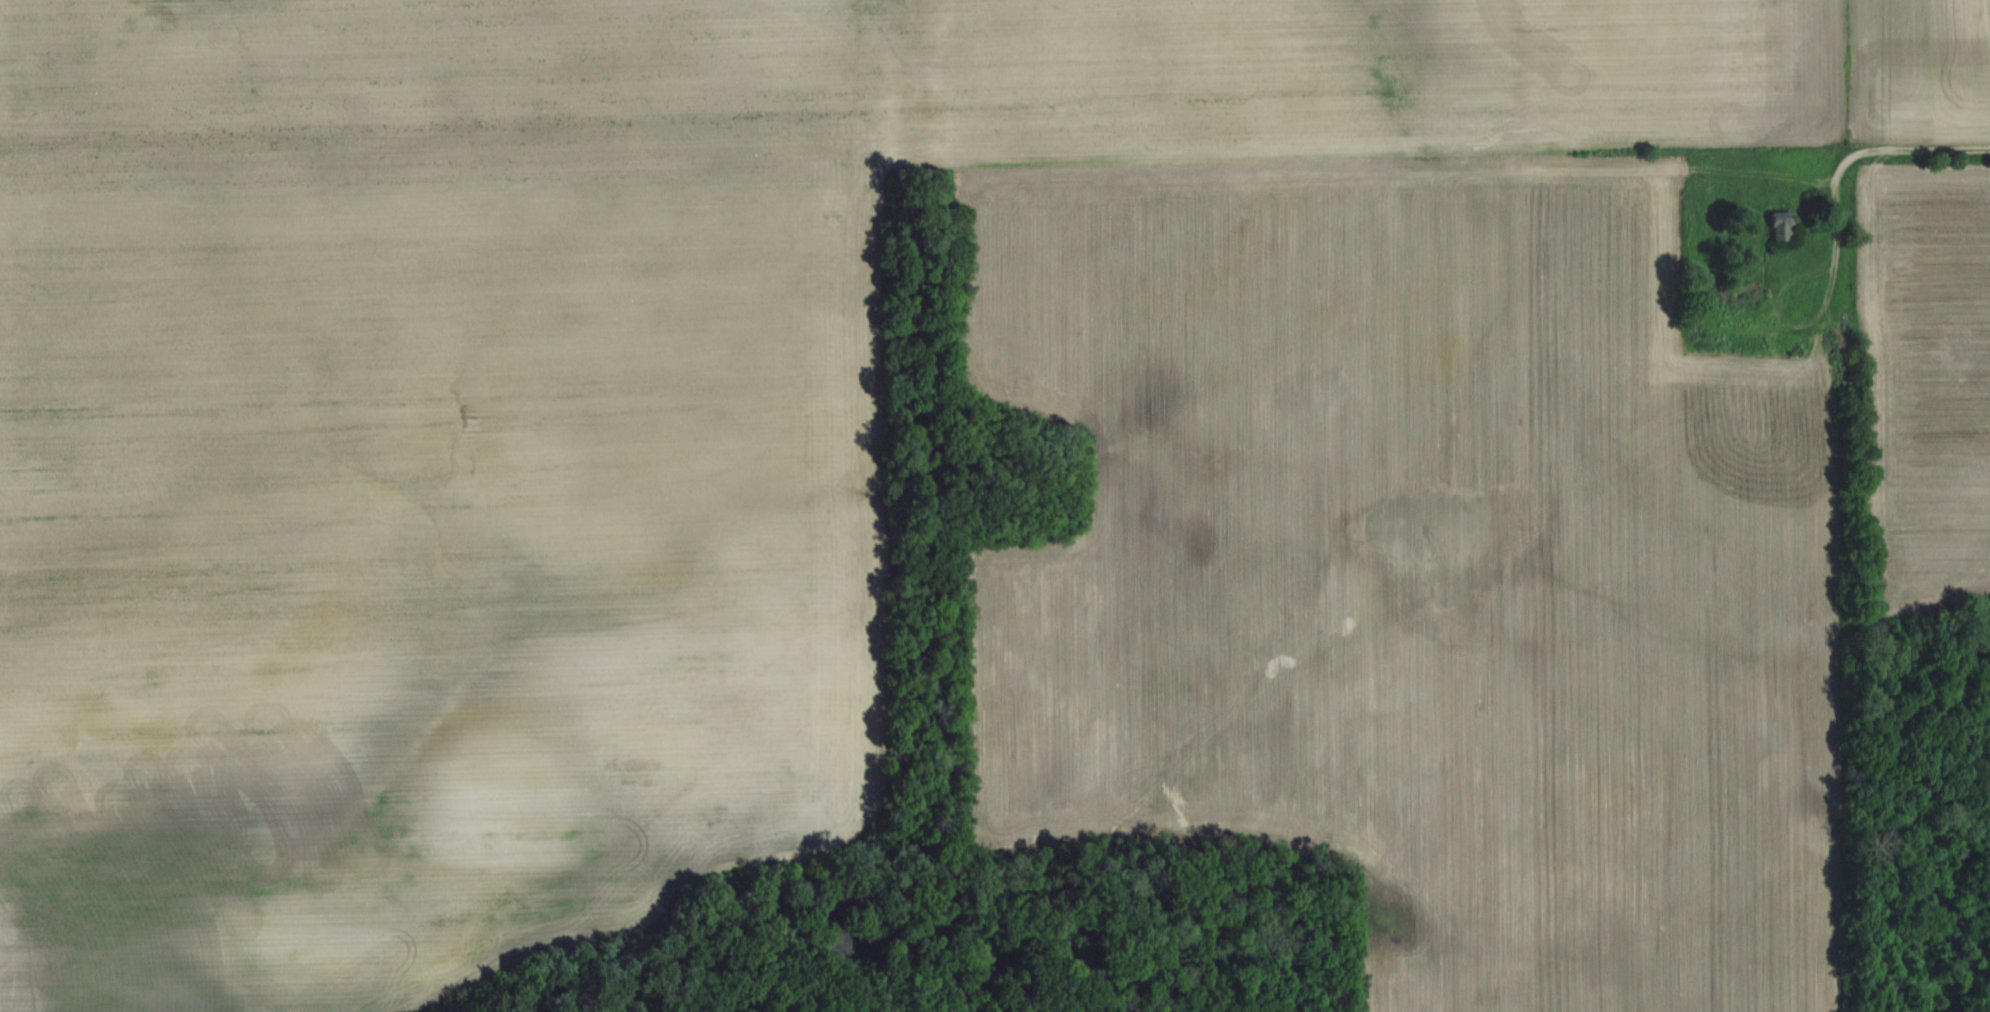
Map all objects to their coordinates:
building: (1776, 226)

